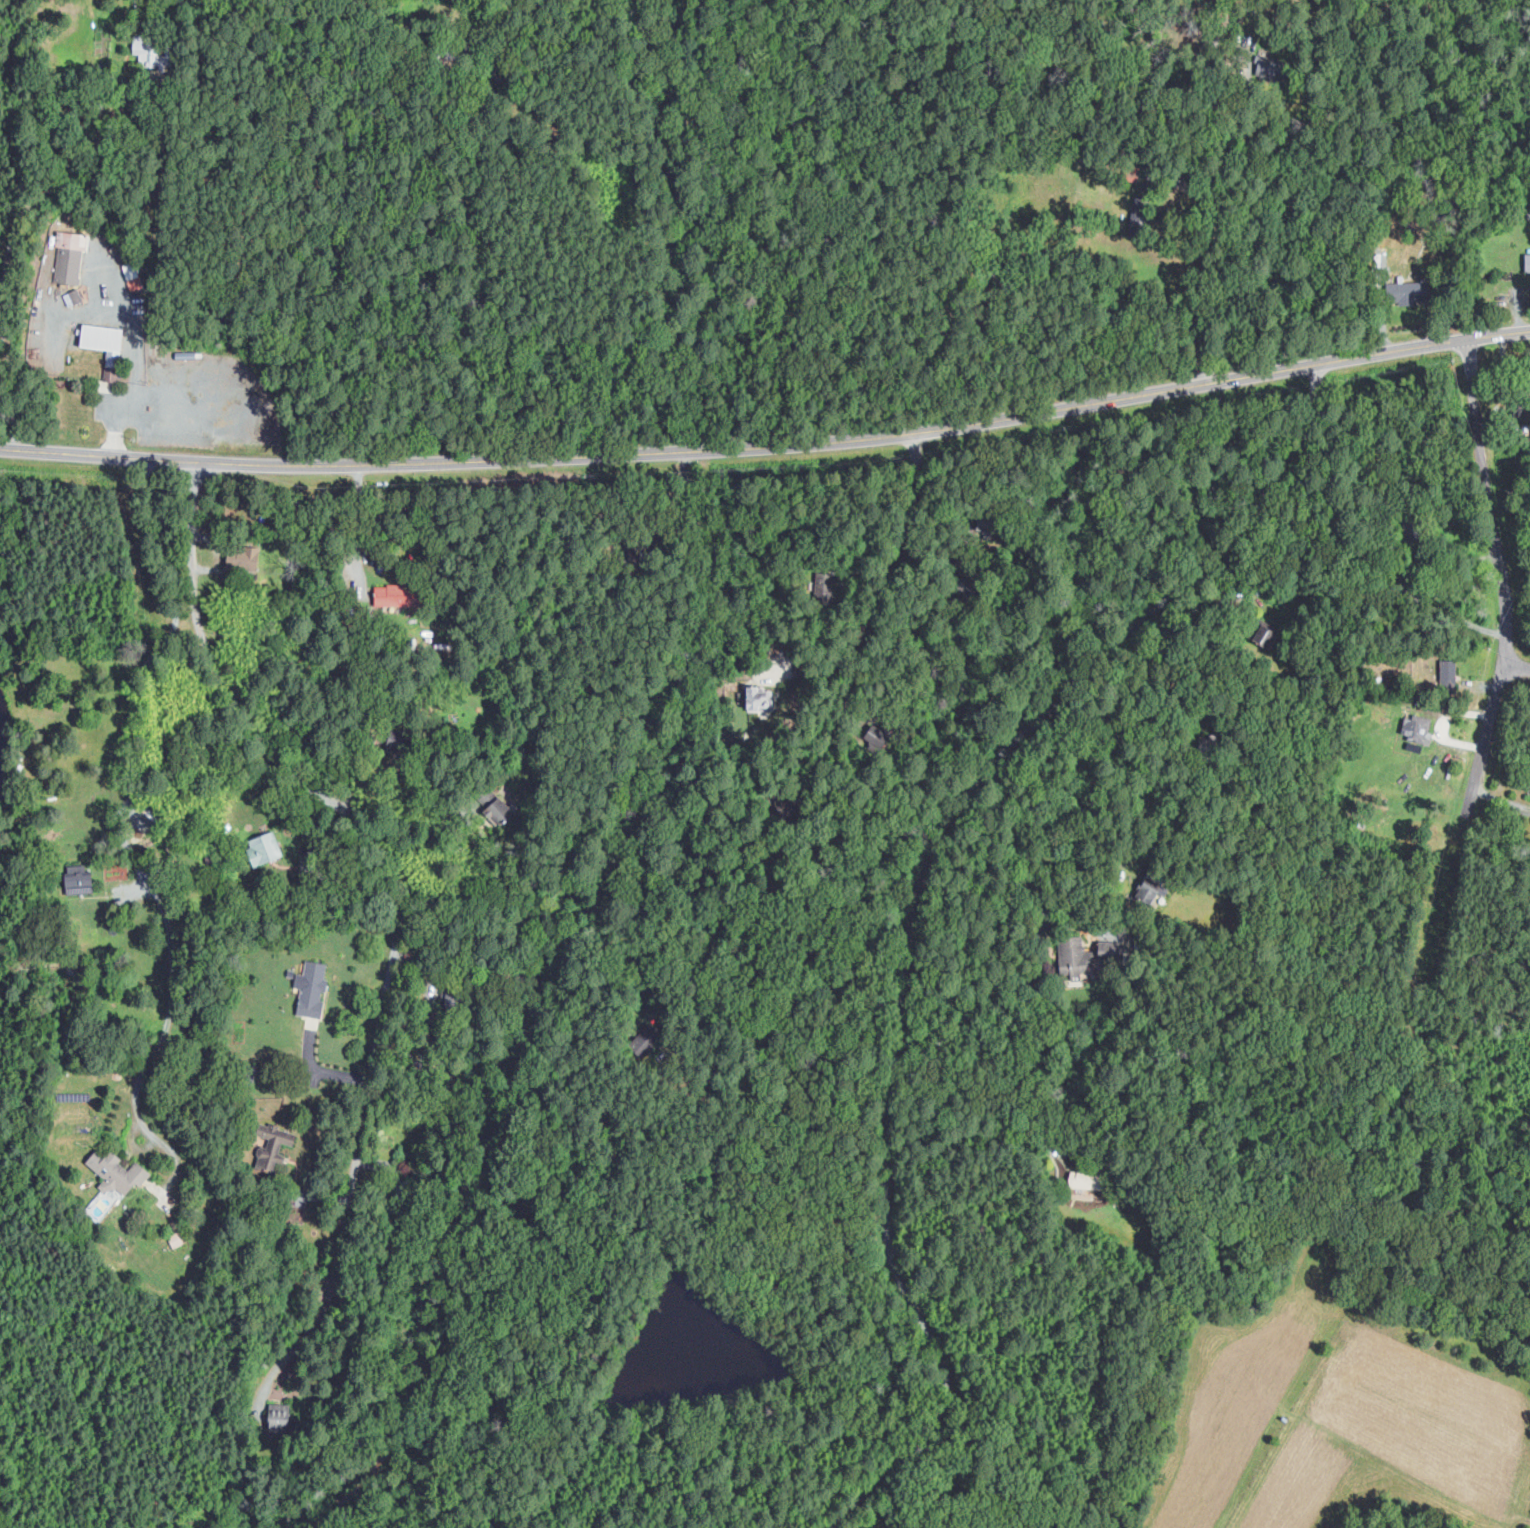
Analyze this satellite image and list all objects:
building: (143, 49)
building: (68, 256)
road: (1213, 256)
road: (9, 260)
building: (1527, 265)
building: (1402, 292)
building: (102, 340)
road: (134, 354)
road: (770, 451)
road: (356, 522)
building: (242, 558)
road: (896, 559)
building: (393, 594)
road: (611, 632)
road: (1499, 659)
road: (1514, 663)
building: (1448, 673)
building: (757, 699)
road: (836, 726)
building: (1416, 728)
building: (497, 812)
building: (154, 813)
building: (225, 828)
road: (121, 829)
road: (377, 849)
building: (263, 850)
building: (209, 860)
building: (77, 879)
building: (1148, 892)
road: (916, 902)
road: (1041, 951)
building: (1072, 955)
building: (312, 989)
road: (1031, 1133)
building: (273, 1144)
building: (116, 1172)
building: (403, 1191)
building: (177, 1238)
road: (295, 1346)
building: (278, 1419)

